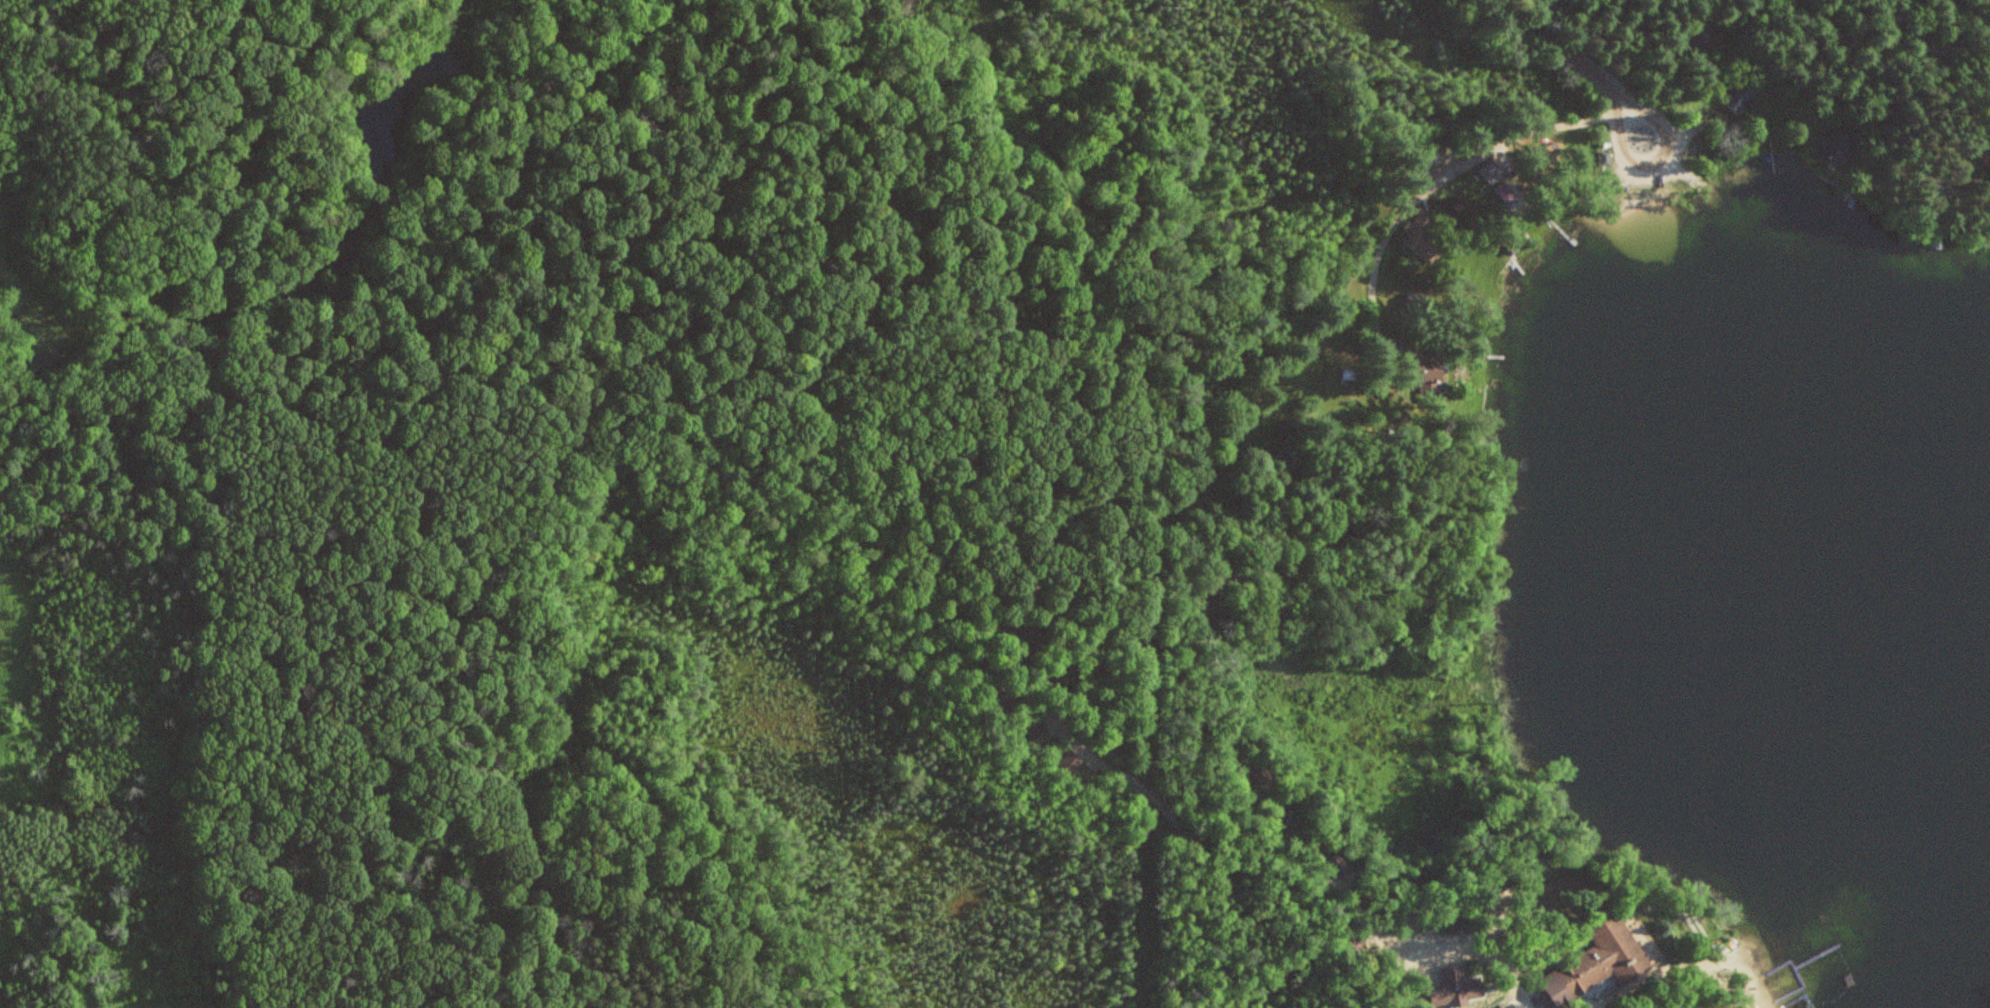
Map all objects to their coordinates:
road: (1709, 38)
road: (1568, 47)
building: (1746, 97)
building: (1838, 146)
building: (1605, 157)
road: (1665, 168)
road: (1687, 174)
road: (1447, 176)
building: (1429, 247)
building: (1419, 358)
building: (1006, 689)
building: (1041, 732)
building: (1070, 759)
building: (1597, 965)

